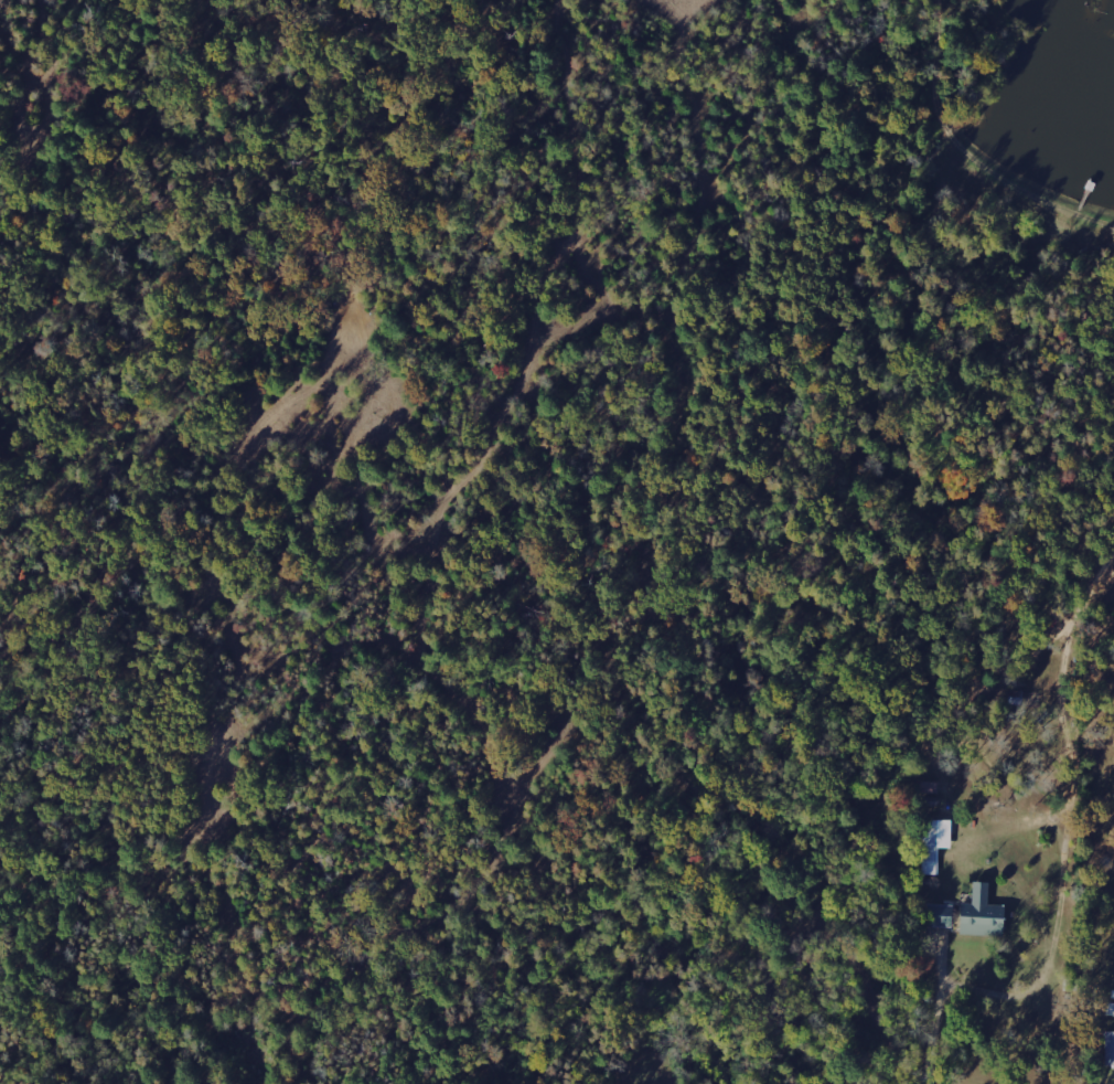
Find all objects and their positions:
building: (934, 842)
building: (979, 913)
building: (938, 914)
building: (1108, 1010)
building: (1108, 1048)

